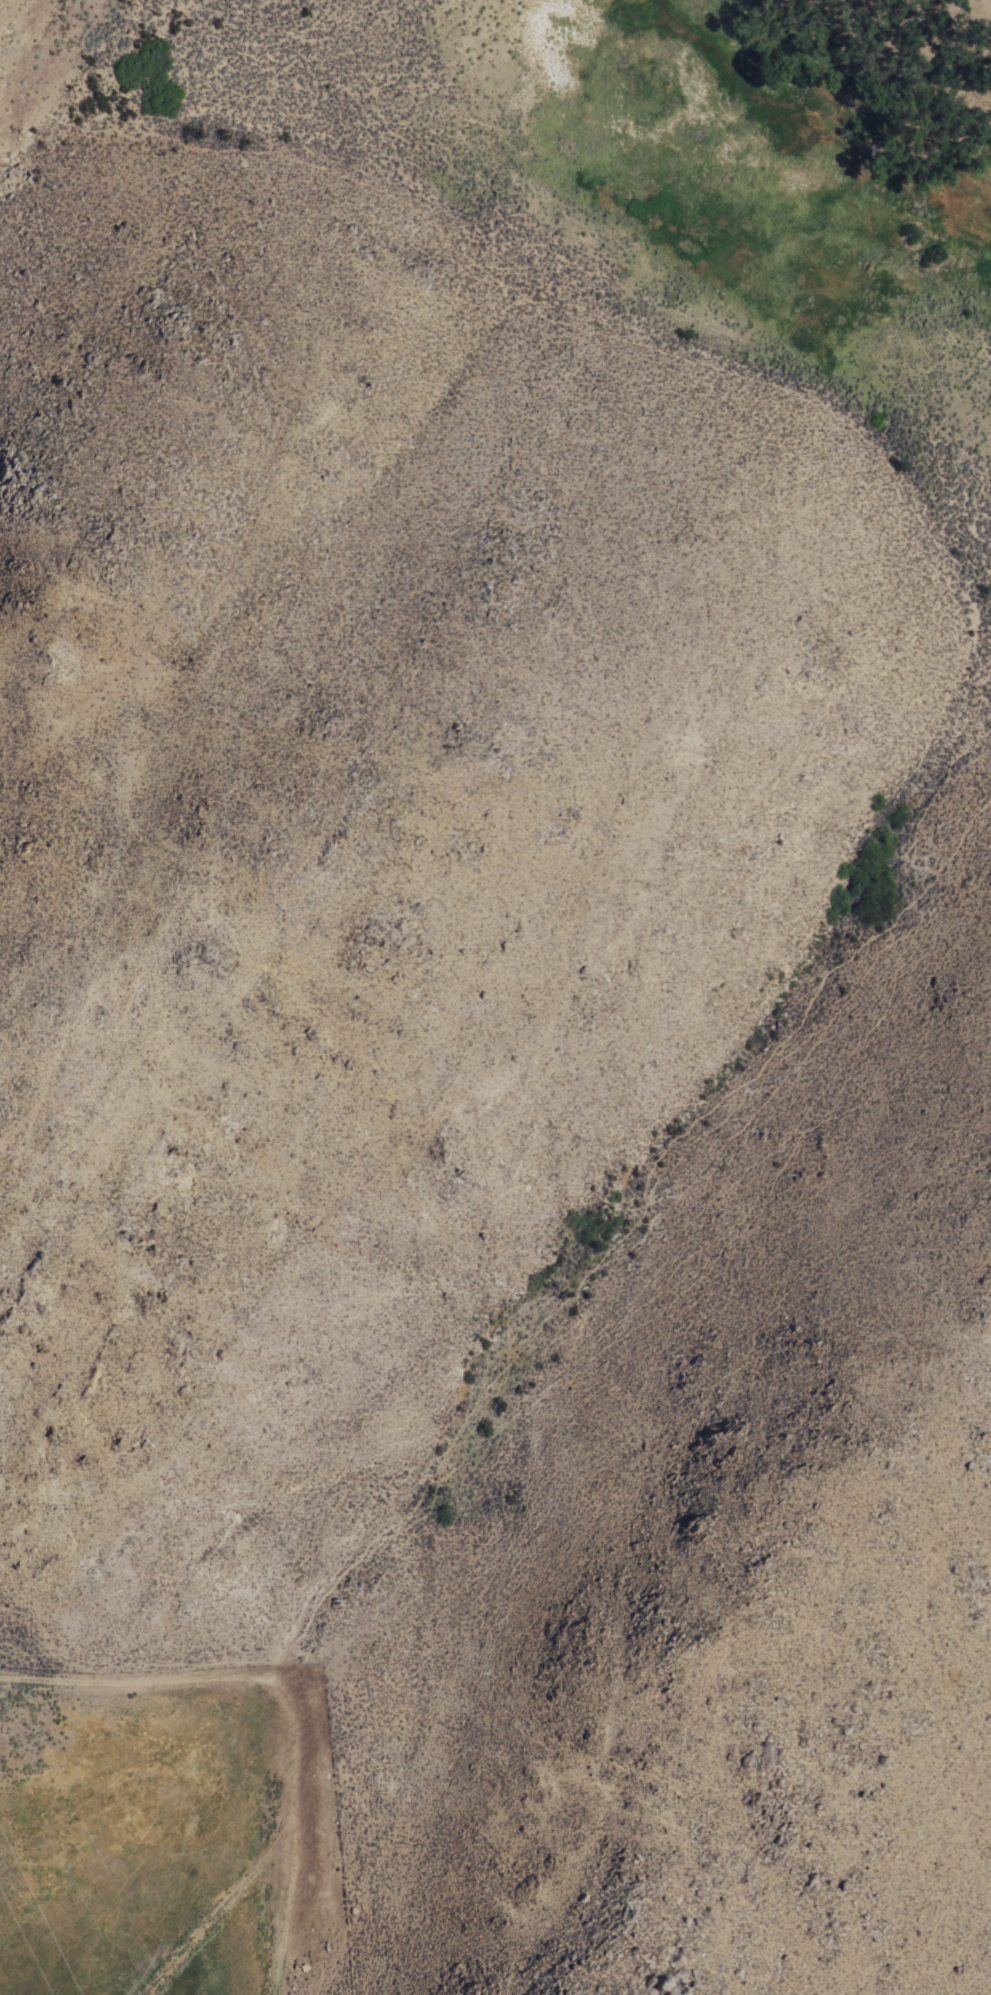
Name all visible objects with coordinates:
road: (288, 1700)

